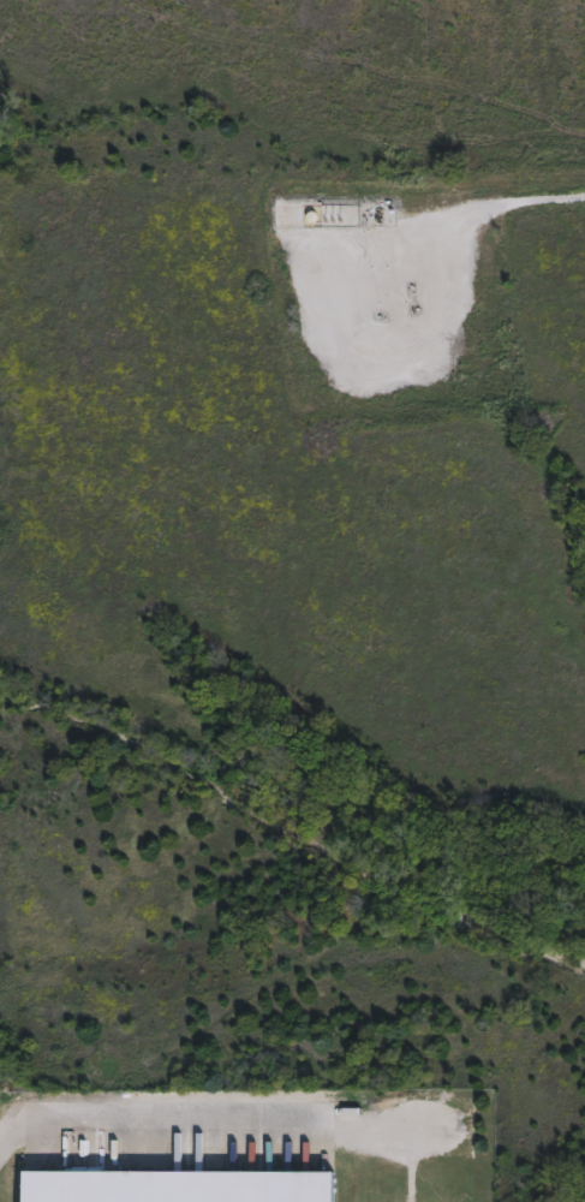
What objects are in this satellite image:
road: (514, 200)
road: (18, 1084)
road: (198, 1103)
building: (172, 1185)

